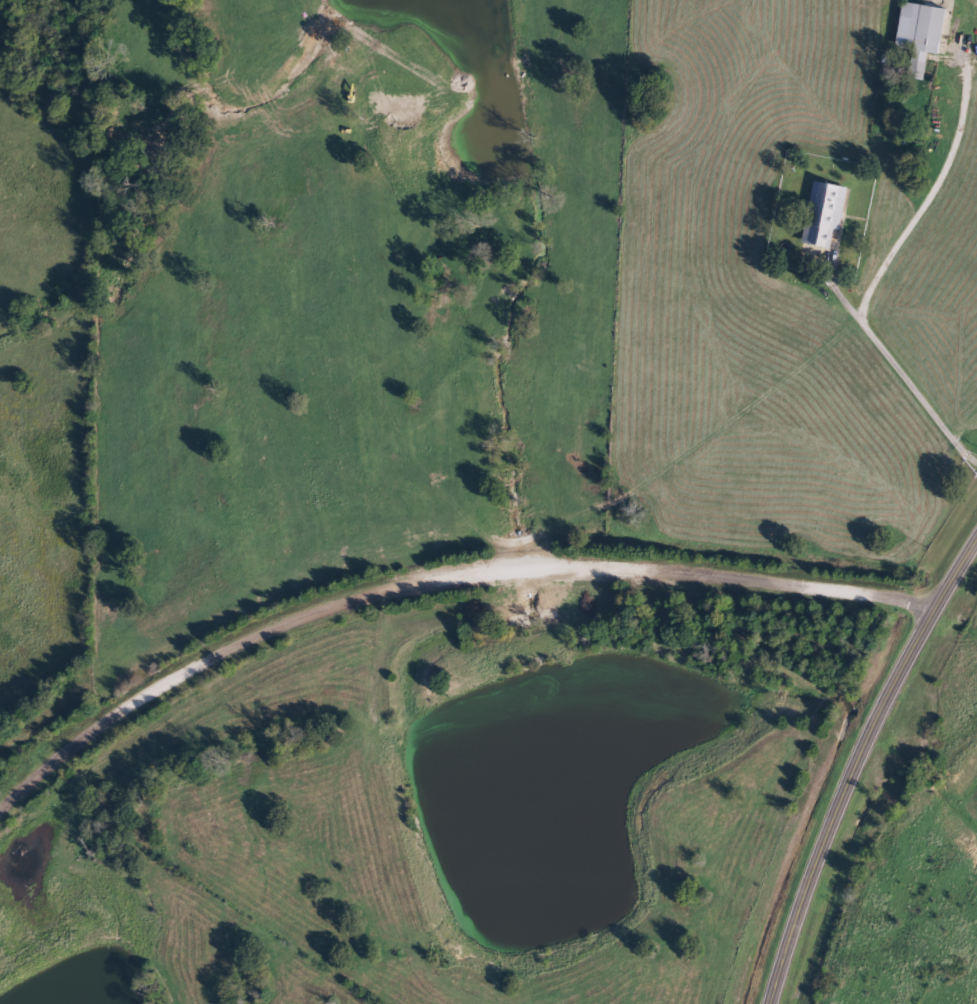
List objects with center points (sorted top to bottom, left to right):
building: (924, 36)
building: (827, 214)
road: (437, 564)
road: (855, 766)

